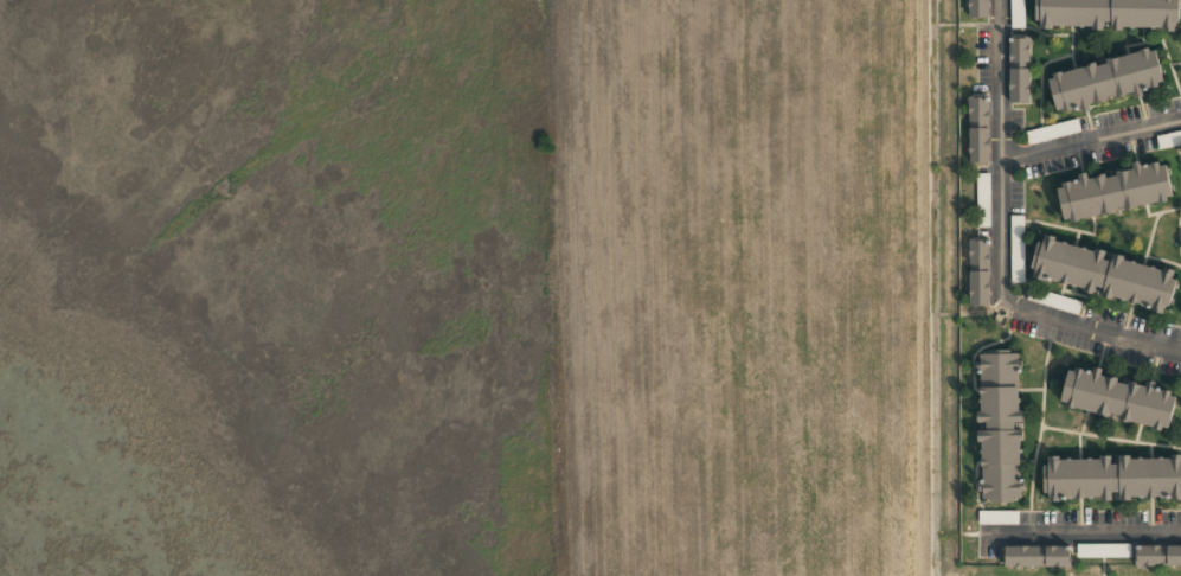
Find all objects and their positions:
building: (978, 8)
building: (1016, 13)
building: (1108, 13)
building: (1019, 70)
building: (1104, 81)
building: (978, 128)
road: (1090, 139)
building: (1112, 191)
building: (983, 200)
road: (1002, 242)
building: (1016, 249)
building: (978, 271)
building: (1104, 274)
building: (1053, 300)
building: (1117, 398)
building: (999, 427)
building: (1111, 478)
building: (997, 517)
road: (1083, 535)
building: (1103, 550)
building: (1158, 555)
building: (1036, 556)

